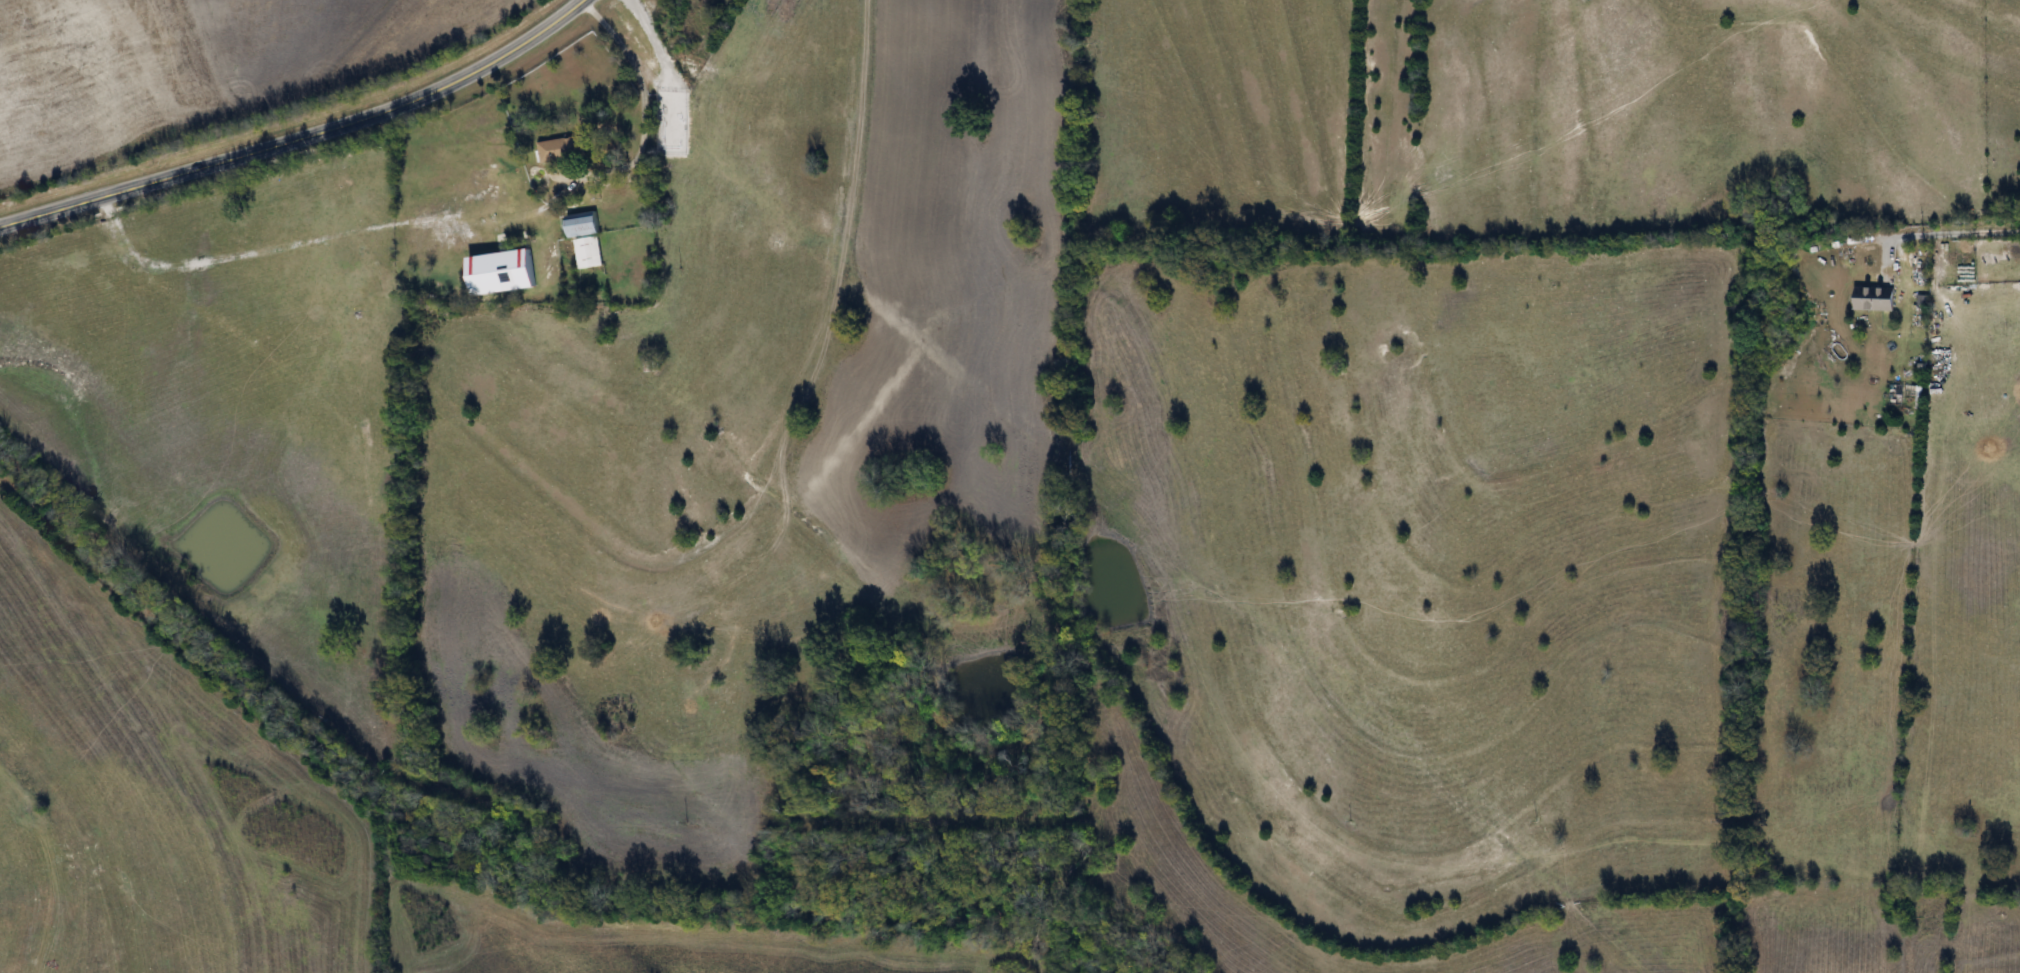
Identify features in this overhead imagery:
road: (616, 41)
road: (485, 65)
building: (560, 149)
road: (191, 168)
road: (448, 221)
building: (582, 224)
road: (1949, 233)
building: (587, 252)
building: (1874, 298)

